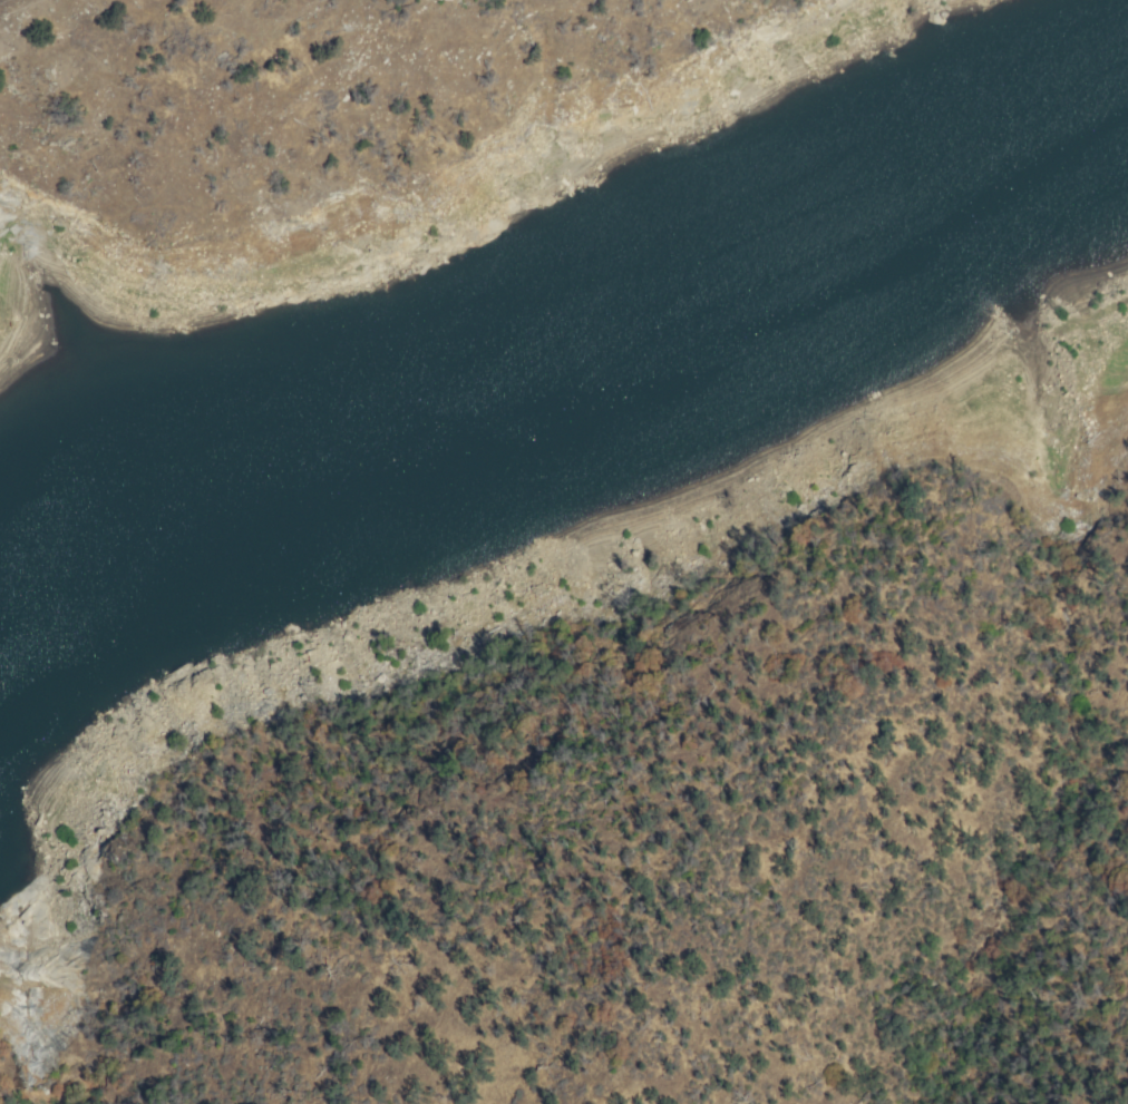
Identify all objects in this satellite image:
river: (1092, 195)
river: (957, 228)
river: (775, 369)
river: (350, 472)
river: (41, 604)

